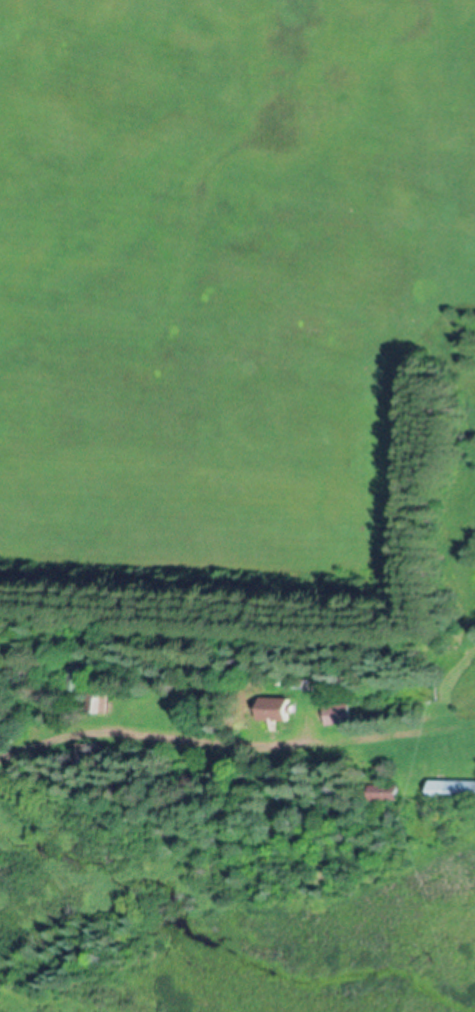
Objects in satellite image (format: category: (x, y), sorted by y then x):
building: (97, 703)
building: (276, 713)
building: (337, 717)
road: (160, 734)
building: (452, 793)
building: (381, 795)

